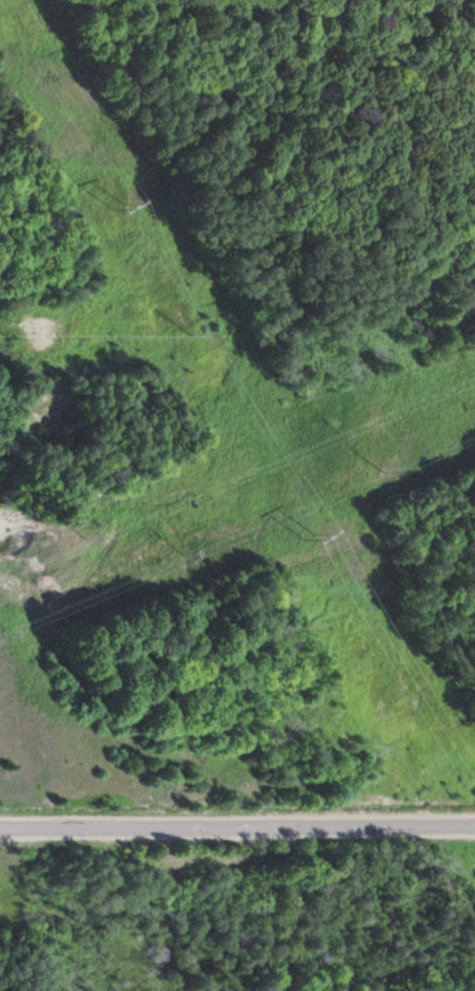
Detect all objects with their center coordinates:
road: (237, 831)

